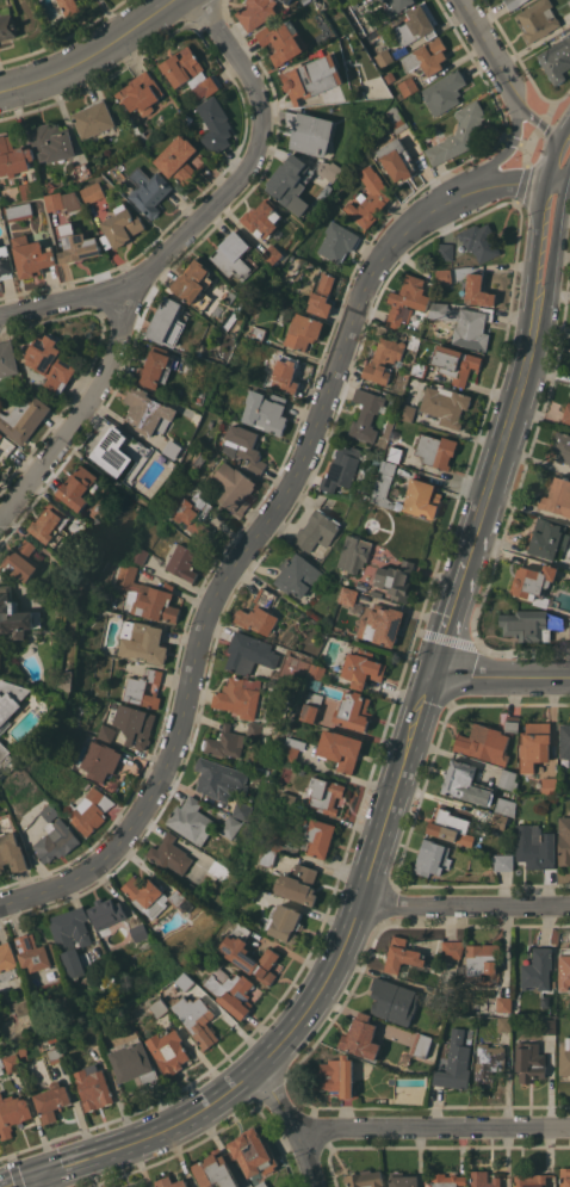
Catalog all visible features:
building: (286, 1)
building: (569, 1)
building: (514, 2)
building: (397, 5)
building: (70, 6)
building: (256, 12)
building: (538, 19)
road: (472, 24)
building: (415, 25)
building: (7, 26)
building: (283, 39)
building: (399, 51)
road: (89, 55)
building: (427, 56)
building: (383, 57)
building: (556, 58)
road: (498, 69)
building: (188, 72)
building: (311, 78)
building: (408, 86)
building: (444, 91)
building: (141, 92)
building: (94, 117)
building: (396, 118)
road: (532, 118)
building: (215, 124)
building: (135, 125)
building: (309, 131)
building: (459, 134)
road: (564, 134)
building: (389, 135)
building: (51, 141)
road: (509, 149)
building: (13, 156)
building: (180, 159)
building: (396, 159)
building: (316, 161)
road: (553, 161)
building: (82, 168)
building: (329, 169)
road: (569, 179)
road: (557, 181)
building: (291, 183)
road: (507, 183)
building: (328, 187)
building: (31, 188)
building: (148, 190)
building: (93, 192)
building: (368, 197)
building: (63, 200)
road: (207, 208)
building: (311, 209)
building: (18, 210)
building: (262, 217)
building: (120, 225)
building: (479, 240)
building: (336, 241)
building: (76, 245)
building: (445, 249)
building: (273, 253)
building: (32, 255)
building: (235, 255)
building: (5, 260)
building: (444, 272)
road: (532, 274)
road: (554, 279)
building: (194, 283)
building: (478, 289)
building: (321, 295)
building: (407, 299)
building: (167, 321)
building: (465, 323)
building: (302, 330)
building: (256, 332)
building: (414, 341)
building: (7, 358)
building: (384, 358)
building: (50, 361)
building: (456, 363)
building: (155, 367)
building: (419, 369)
building: (284, 376)
building: (446, 404)
building: (145, 409)
building: (265, 410)
building: (408, 412)
building: (367, 413)
building: (566, 413)
road: (81, 414)
building: (24, 418)
building: (1, 434)
building: (243, 445)
building: (562, 446)
building: (435, 450)
building: (171, 451)
building: (395, 452)
building: (117, 458)
building: (199, 460)
building: (341, 466)
road: (491, 480)
building: (383, 484)
building: (78, 486)
building: (233, 487)
building: (557, 495)
building: (422, 497)
building: (398, 505)
building: (192, 511)
building: (89, 514)
building: (48, 520)
building: (316, 530)
building: (546, 537)
building: (354, 551)
building: (138, 554)
building: (23, 560)
road: (237, 560)
building: (182, 562)
building: (297, 574)
building: (396, 579)
building: (533, 580)
building: (361, 585)
building: (377, 592)
building: (147, 594)
building: (348, 595)
building: (258, 612)
building: (13, 613)
building: (382, 624)
building: (531, 624)
building: (569, 632)
building: (142, 641)
building: (249, 651)
building: (295, 661)
building: (363, 667)
building: (317, 670)
road: (501, 675)
building: (142, 688)
building: (238, 695)
building: (11, 699)
building: (312, 705)
building: (354, 710)
building: (512, 722)
building: (135, 724)
building: (254, 730)
building: (105, 732)
building: (564, 740)
building: (224, 742)
building: (484, 742)
building: (534, 744)
building: (292, 748)
building: (340, 749)
building: (6, 753)
building: (100, 759)
building: (261, 769)
building: (303, 769)
building: (219, 779)
building: (508, 779)
building: (256, 783)
building: (465, 783)
building: (549, 785)
building: (324, 793)
building: (287, 799)
building: (506, 805)
building: (89, 810)
building: (241, 810)
building: (190, 820)
building: (498, 820)
building: (229, 826)
building: (450, 826)
building: (54, 835)
building: (318, 835)
building: (564, 840)
building: (277, 846)
building: (534, 846)
building: (12, 852)
building: (169, 854)
building: (432, 857)
building: (503, 861)
building: (217, 868)
building: (196, 872)
building: (298, 883)
building: (188, 885)
building: (249, 891)
building: (145, 895)
building: (180, 898)
road: (464, 905)
building: (105, 915)
building: (284, 922)
building: (138, 931)
building: (70, 938)
building: (452, 948)
building: (35, 952)
building: (236, 953)
building: (402, 954)
building: (7, 956)
road: (339, 958)
building: (481, 959)
building: (565, 966)
building: (538, 969)
building: (186, 979)
building: (231, 990)
building: (394, 1000)
building: (435, 1002)
building: (503, 1003)
building: (160, 1007)
building: (140, 1012)
building: (196, 1018)
building: (504, 1022)
building: (549, 1026)
building: (361, 1037)
building: (420, 1044)
building: (23, 1050)
building: (168, 1050)
building: (57, 1053)
building: (564, 1055)
building: (134, 1061)
building: (529, 1061)
building: (13, 1062)
building: (403, 1062)
building: (454, 1062)
building: (488, 1063)
building: (1, 1064)
building: (336, 1075)
building: (93, 1084)
building: (52, 1094)
building: (12, 1112)
road: (292, 1126)
road: (432, 1127)
building: (253, 1151)
building: (216, 1169)
building: (564, 1176)
building: (192, 1179)
building: (364, 1179)
building: (402, 1179)
building: (446, 1179)
building: (483, 1179)
building: (531, 1179)
road: (20, 1181)
road: (37, 1181)
building: (169, 1182)
building: (261, 1183)

